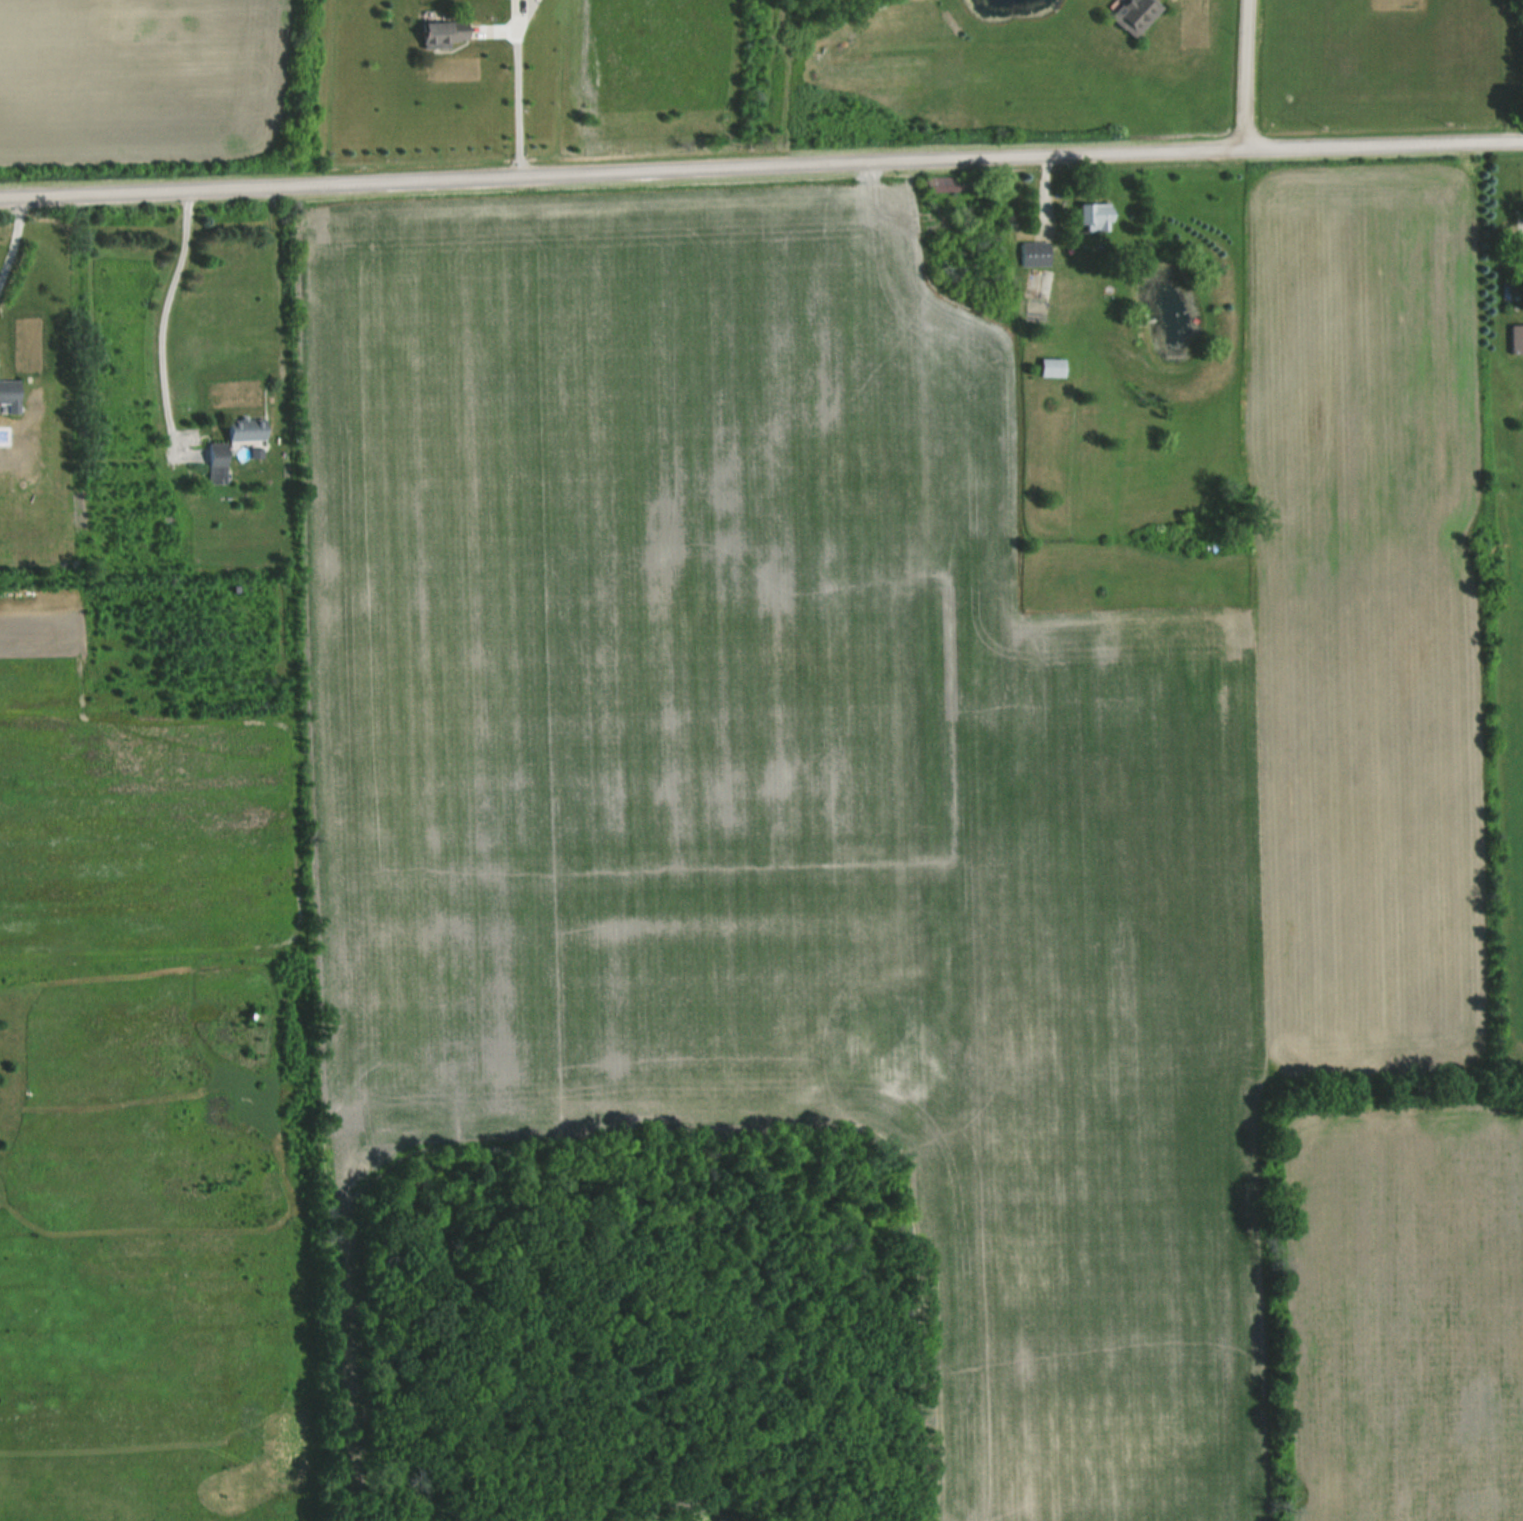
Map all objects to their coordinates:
building: (1134, 13)
building: (445, 32)
road: (1237, 76)
road: (516, 92)
road: (761, 169)
building: (948, 184)
building: (1098, 217)
road: (13, 237)
building: (1036, 253)
road: (163, 313)
building: (1517, 338)
building: (1054, 367)
building: (10, 396)
building: (247, 430)
building: (218, 463)

